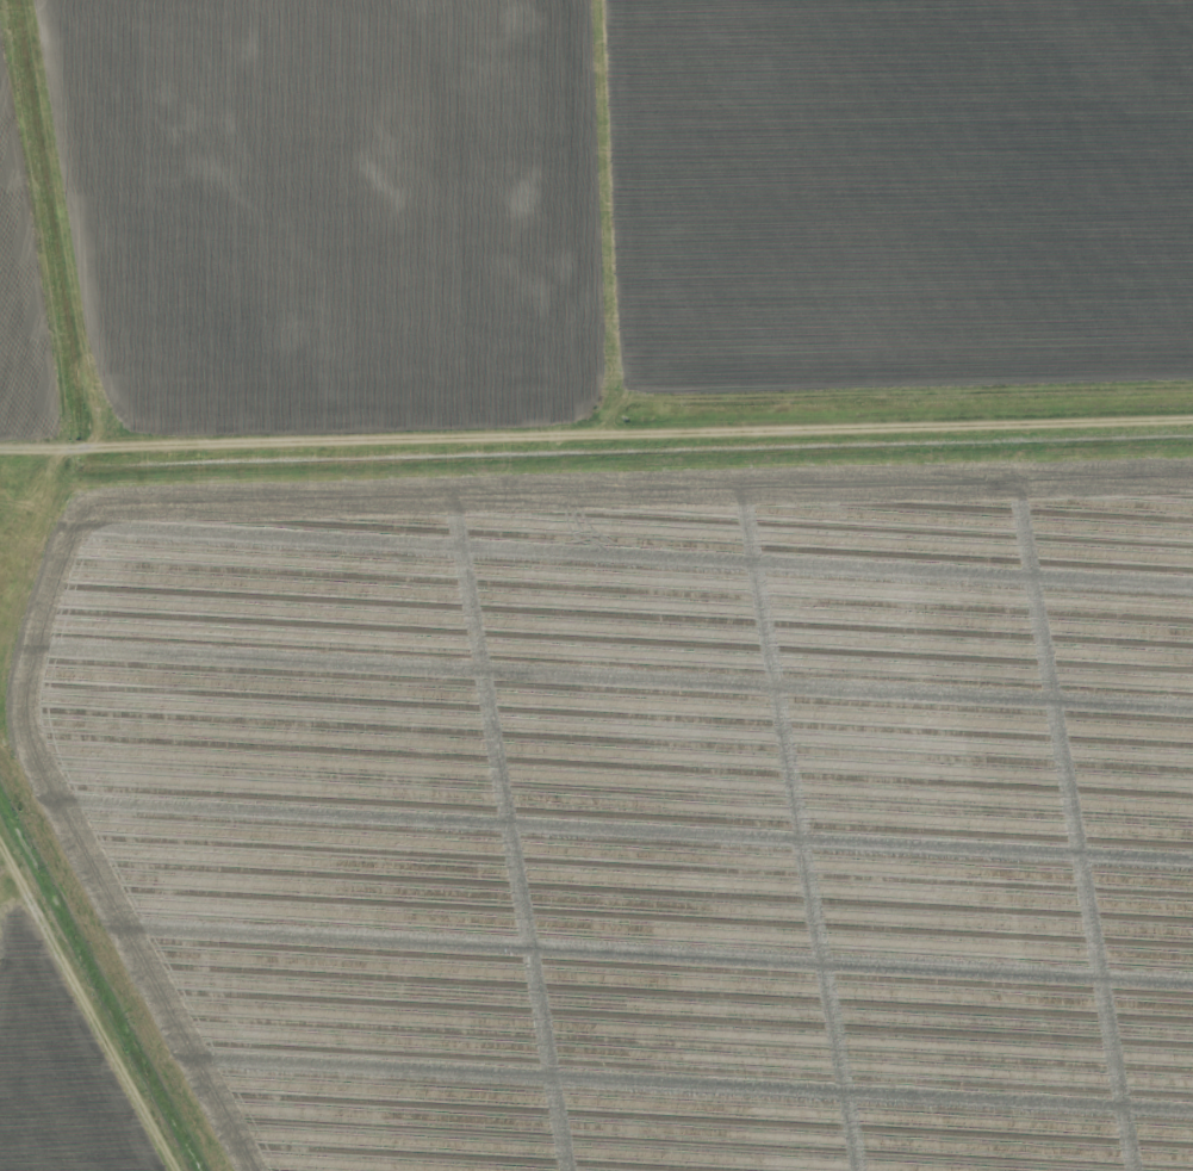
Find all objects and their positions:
road: (611, 215)
road: (441, 436)
road: (89, 450)
road: (87, 1009)

